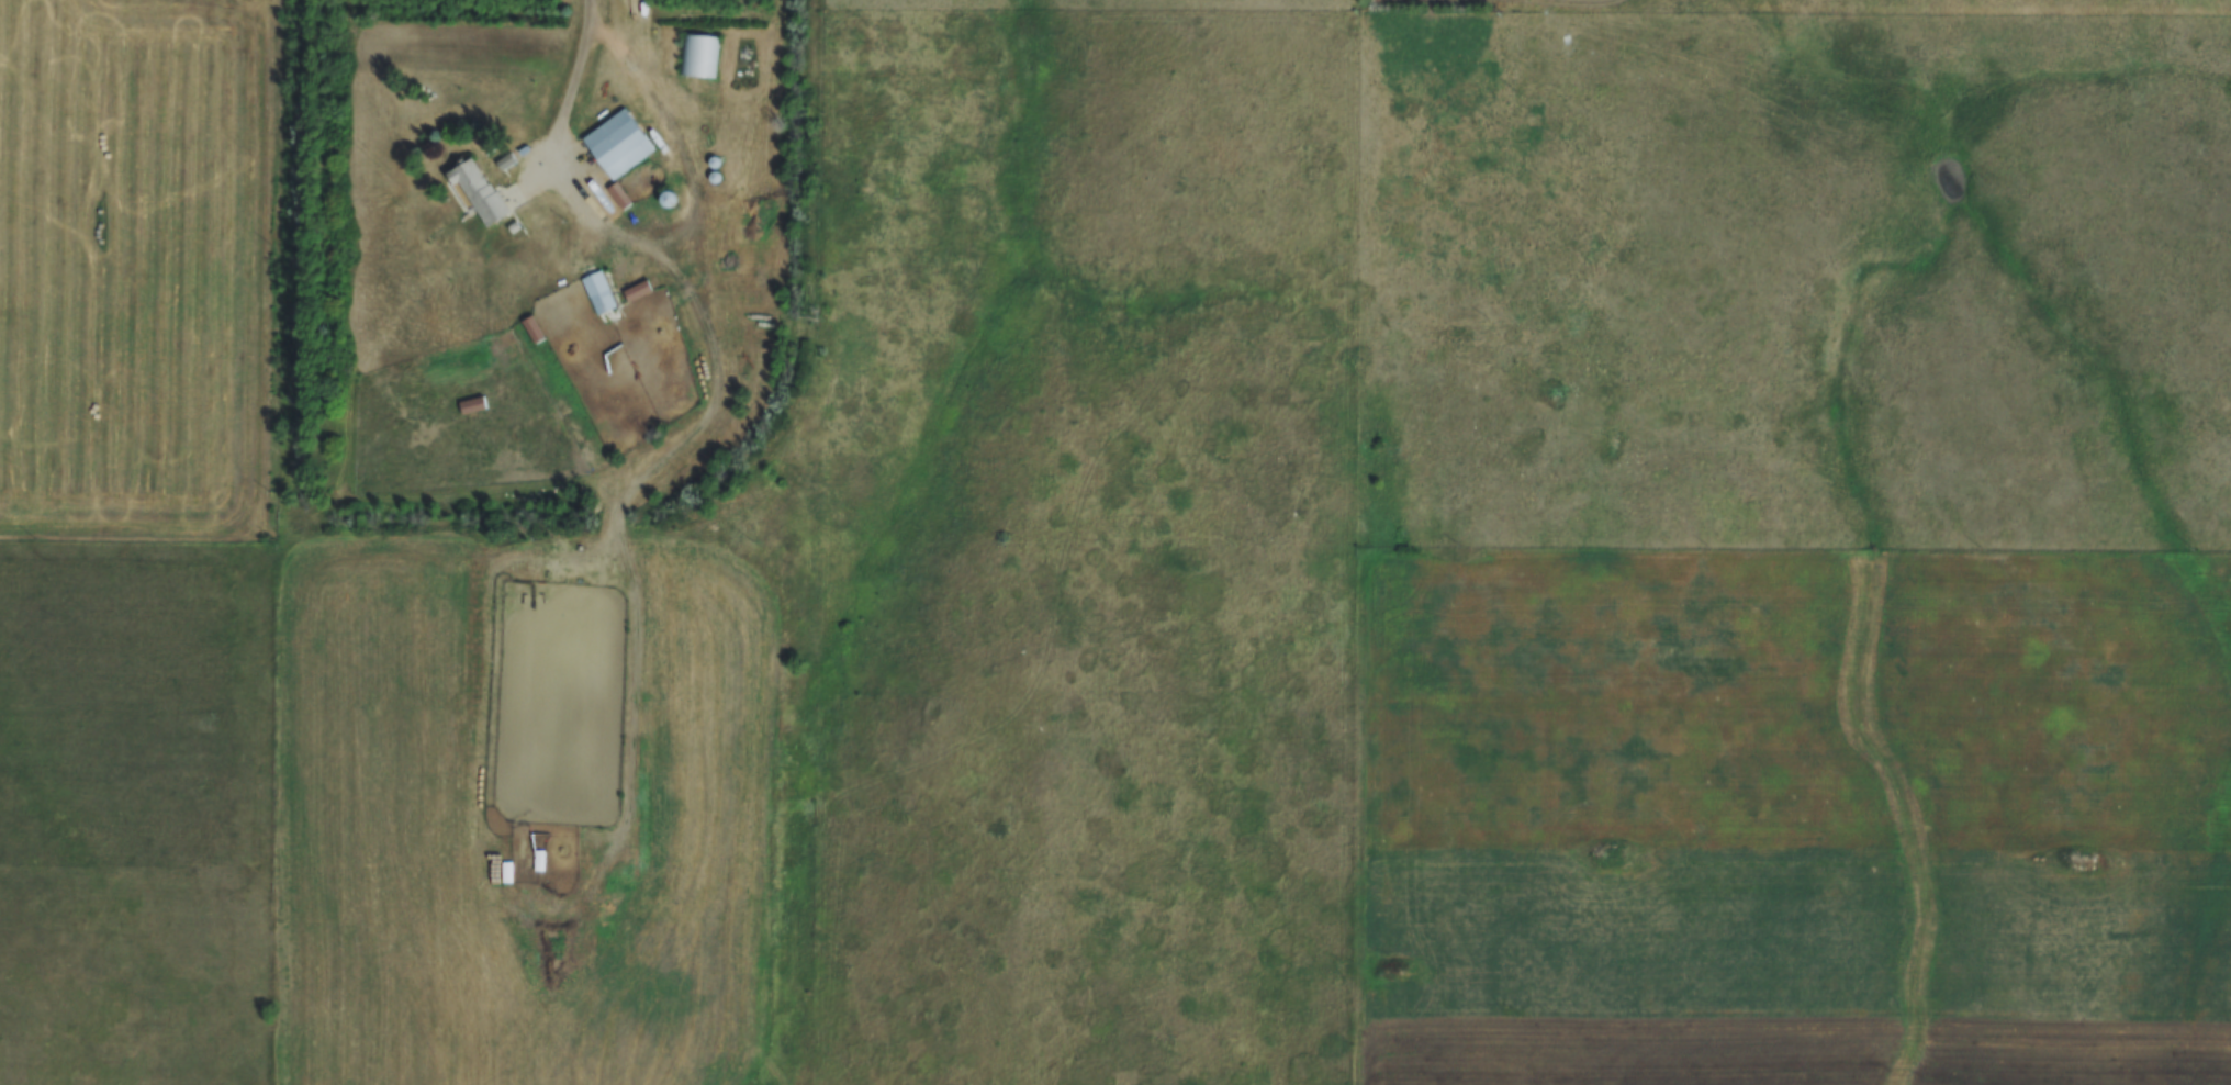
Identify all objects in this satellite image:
building: (698, 55)
road: (569, 102)
building: (620, 144)
building: (481, 192)
building: (601, 292)

